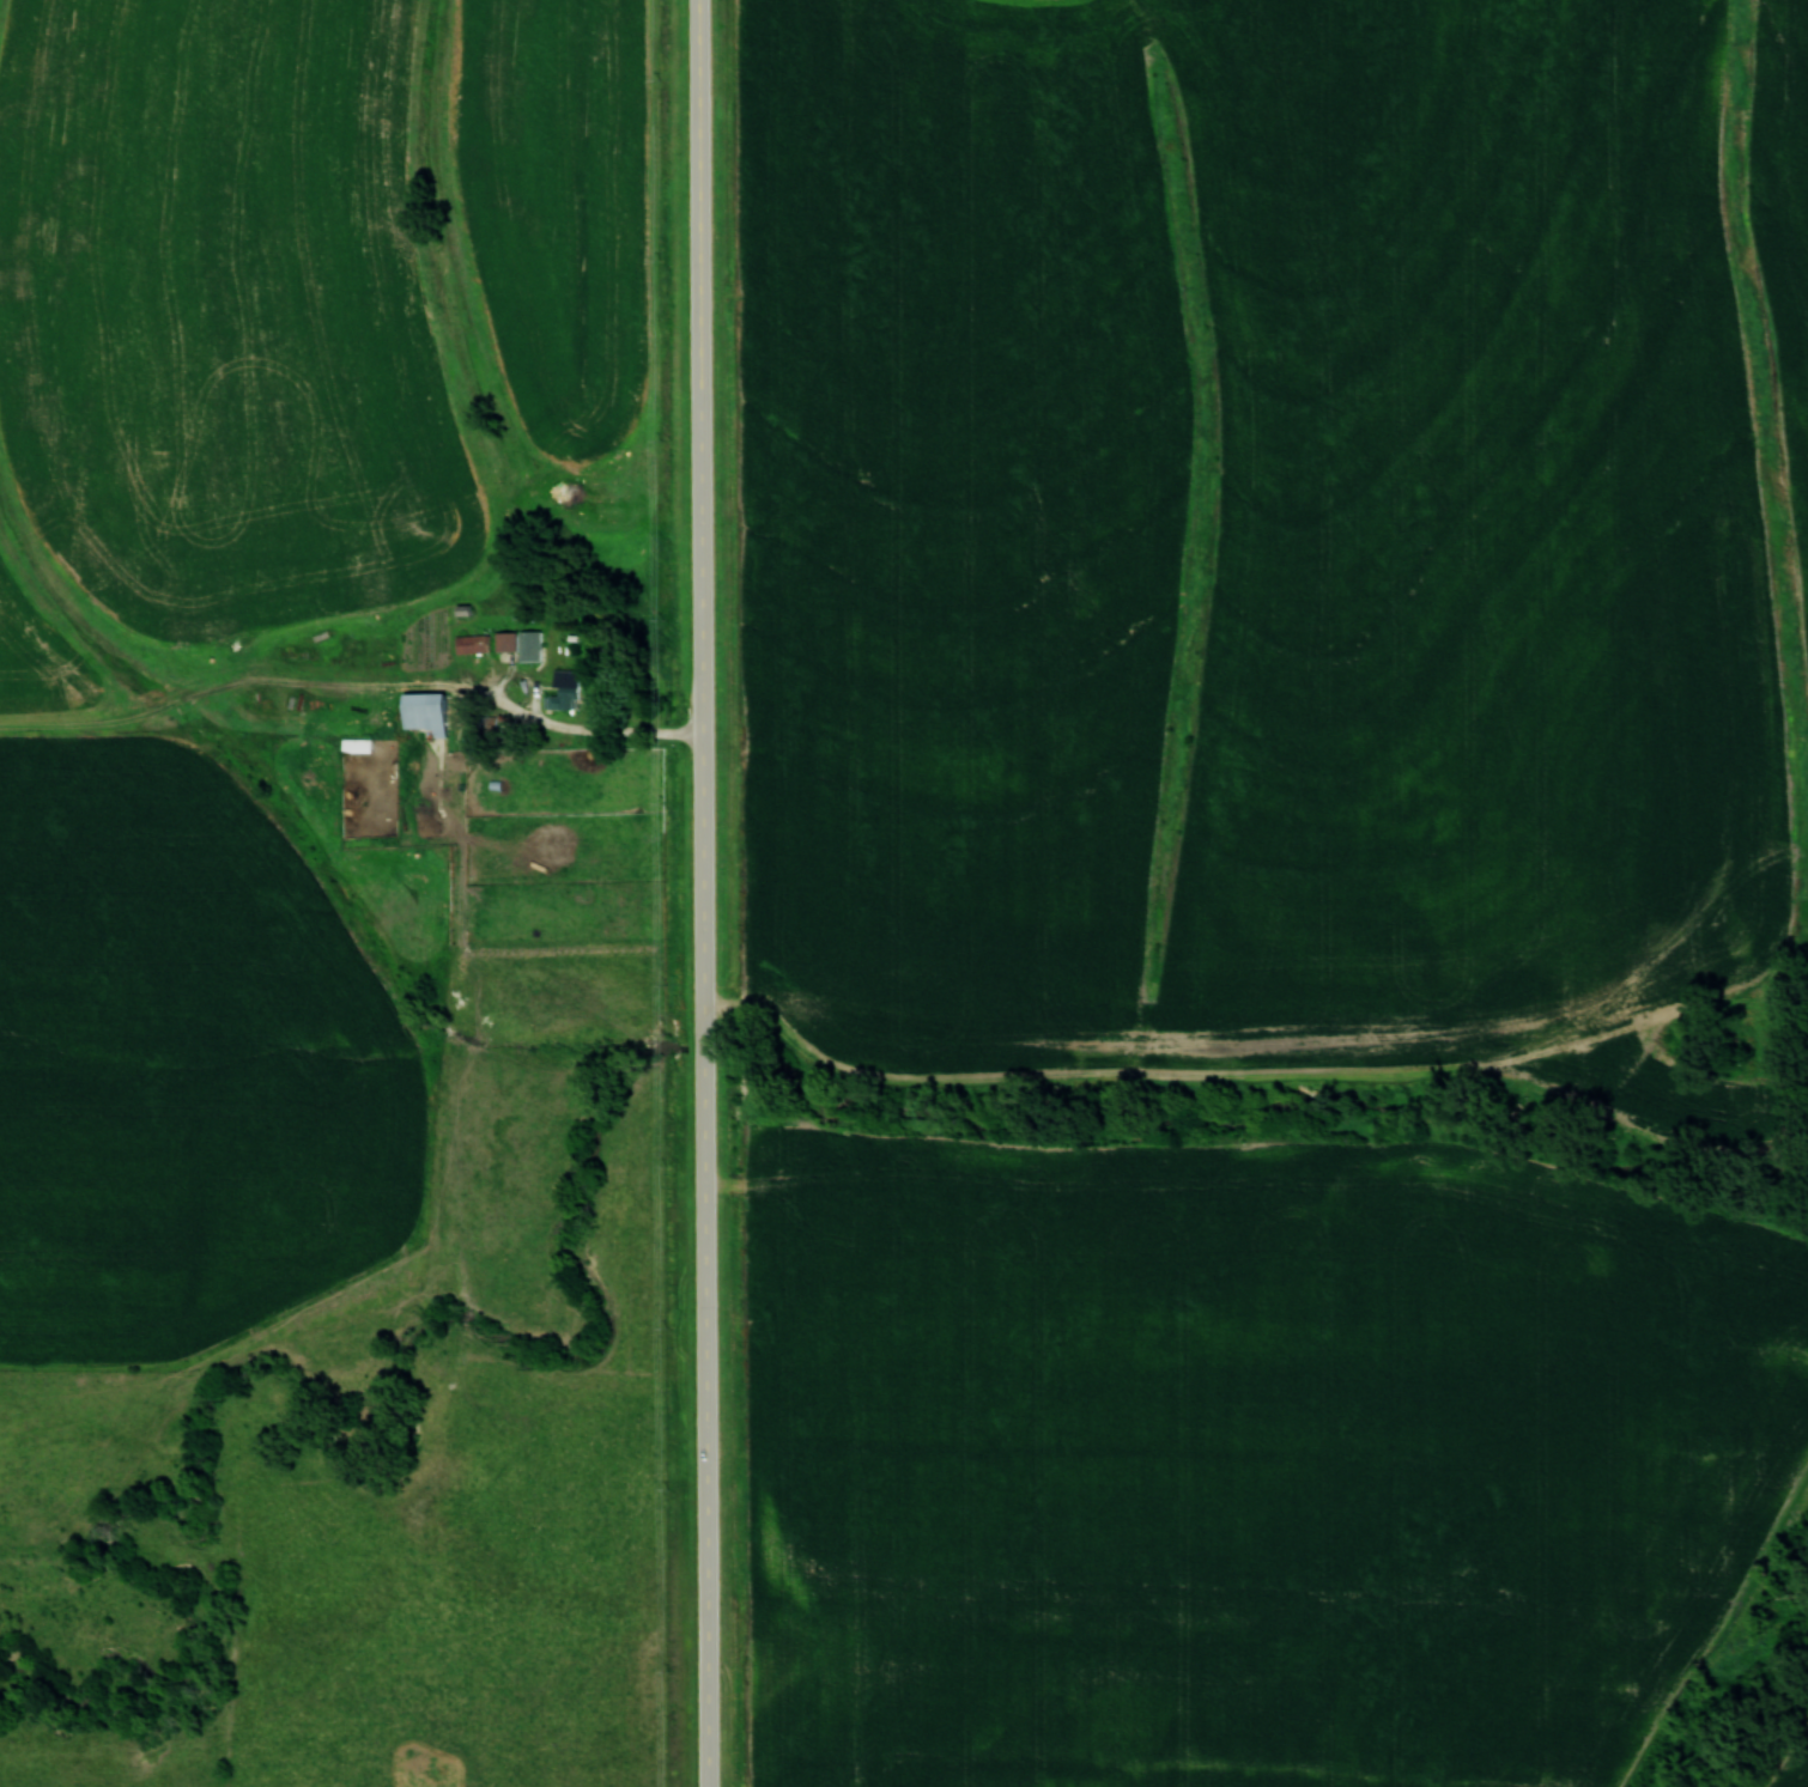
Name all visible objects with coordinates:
building: (504, 640)
building: (528, 645)
building: (563, 691)
building: (423, 712)
road: (550, 723)
road: (703, 893)

